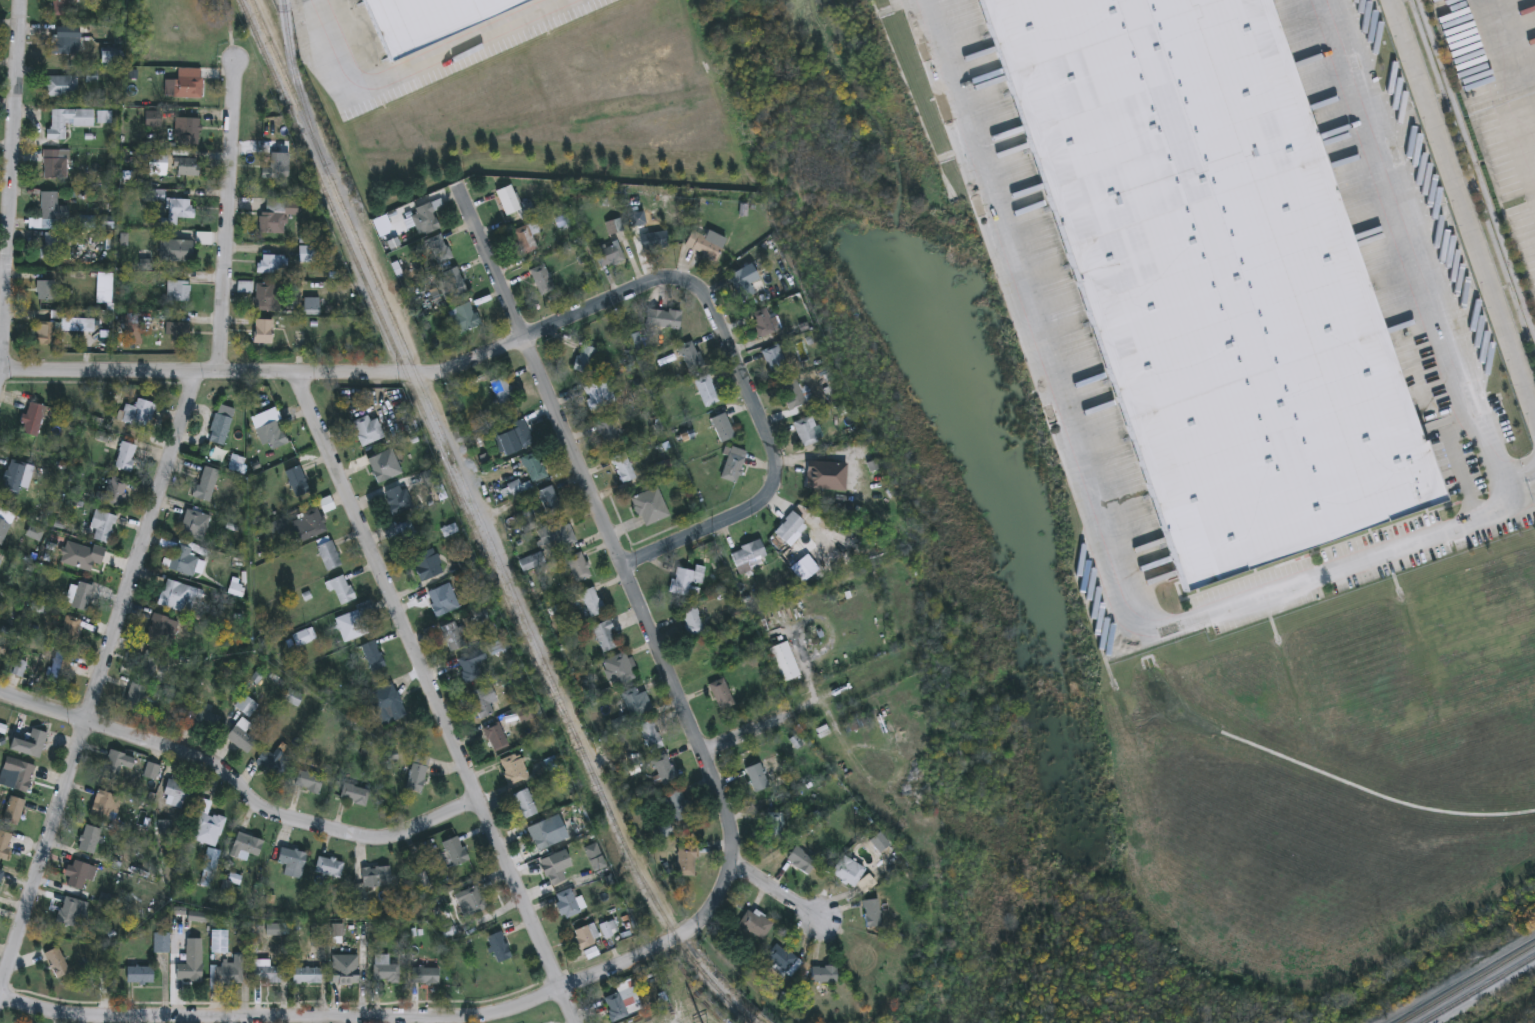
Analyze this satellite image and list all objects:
building: (61, 9)
building: (431, 21)
building: (63, 41)
building: (110, 59)
road: (423, 68)
road: (1510, 71)
railway: (295, 76)
building: (60, 88)
building: (187, 89)
building: (67, 123)
building: (191, 129)
building: (55, 165)
building: (186, 168)
building: (275, 169)
road: (1465, 199)
building: (509, 202)
road: (22, 210)
building: (179, 211)
building: (49, 213)
road: (228, 216)
building: (275, 217)
building: (425, 221)
building: (524, 242)
building: (706, 246)
building: (55, 248)
building: (438, 251)
building: (183, 252)
building: (610, 257)
building: (272, 266)
building: (1213, 273)
building: (542, 281)
building: (450, 285)
building: (741, 286)
building: (178, 293)
building: (44, 295)
building: (264, 298)
building: (311, 308)
building: (463, 319)
building: (663, 321)
building: (764, 324)
building: (131, 330)
building: (177, 333)
building: (262, 334)
building: (43, 336)
building: (690, 358)
building: (585, 361)
building: (775, 361)
railway: (403, 365)
road: (269, 374)
road: (745, 375)
building: (501, 391)
building: (706, 392)
building: (600, 395)
building: (791, 396)
building: (137, 415)
building: (33, 419)
building: (220, 426)
building: (269, 429)
building: (722, 429)
building: (367, 431)
building: (610, 432)
building: (805, 433)
building: (517, 434)
building: (124, 457)
building: (733, 466)
building: (379, 469)
building: (533, 469)
building: (623, 469)
road: (1529, 472)
road: (1512, 476)
building: (16, 477)
building: (815, 477)
building: (296, 482)
building: (205, 485)
building: (516, 489)
building: (112, 495)
building: (393, 502)
building: (549, 502)
building: (650, 508)
road: (605, 521)
railway: (484, 522)
building: (194, 525)
building: (307, 526)
building: (102, 527)
building: (789, 528)
building: (557, 536)
building: (409, 538)
building: (79, 556)
building: (328, 557)
building: (747, 557)
building: (0, 563)
building: (183, 563)
building: (426, 566)
building: (578, 567)
building: (688, 582)
building: (341, 591)
road: (1268, 592)
building: (80, 596)
building: (177, 597)
building: (442, 601)
building: (592, 603)
building: (692, 622)
building: (352, 627)
building: (160, 631)
building: (67, 632)
building: (453, 637)
building: (301, 638)
building: (605, 638)
building: (372, 657)
building: (786, 663)
building: (147, 664)
building: (59, 667)
building: (471, 667)
building: (618, 671)
road: (100, 682)
building: (722, 696)
building: (133, 698)
road: (437, 698)
building: (483, 702)
building: (637, 704)
building: (386, 705)
building: (246, 706)
road: (797, 713)
building: (205, 720)
building: (241, 737)
building: (652, 737)
building: (496, 738)
building: (29, 745)
building: (272, 763)
building: (116, 765)
building: (514, 769)
building: (665, 771)
building: (151, 772)
building: (418, 774)
building: (16, 775)
building: (759, 778)
building: (307, 782)
road: (239, 788)
building: (176, 795)
building: (354, 795)
building: (524, 804)
building: (104, 806)
building: (679, 806)
building: (13, 811)
building: (206, 827)
building: (774, 827)
building: (664, 832)
building: (541, 836)
building: (89, 840)
building: (247, 846)
building: (455, 852)
building: (687, 861)
building: (802, 861)
building: (292, 863)
building: (211, 865)
building: (329, 868)
building: (555, 868)
building: (848, 872)
building: (80, 876)
building: (376, 877)
road: (776, 891)
building: (475, 901)
building: (566, 904)
building: (72, 913)
building: (872, 914)
building: (755, 925)
building: (608, 930)
building: (586, 937)
building: (219, 943)
building: (161, 944)
building: (498, 948)
building: (783, 961)
building: (190, 963)
building: (57, 964)
building: (385, 972)
building: (228, 975)
building: (266, 975)
building: (824, 976)
building: (139, 977)
building: (306, 977)
building: (345, 977)
building: (425, 977)
railway: (1468, 984)
railway: (1478, 989)
building: (621, 1004)
road: (393, 1019)

